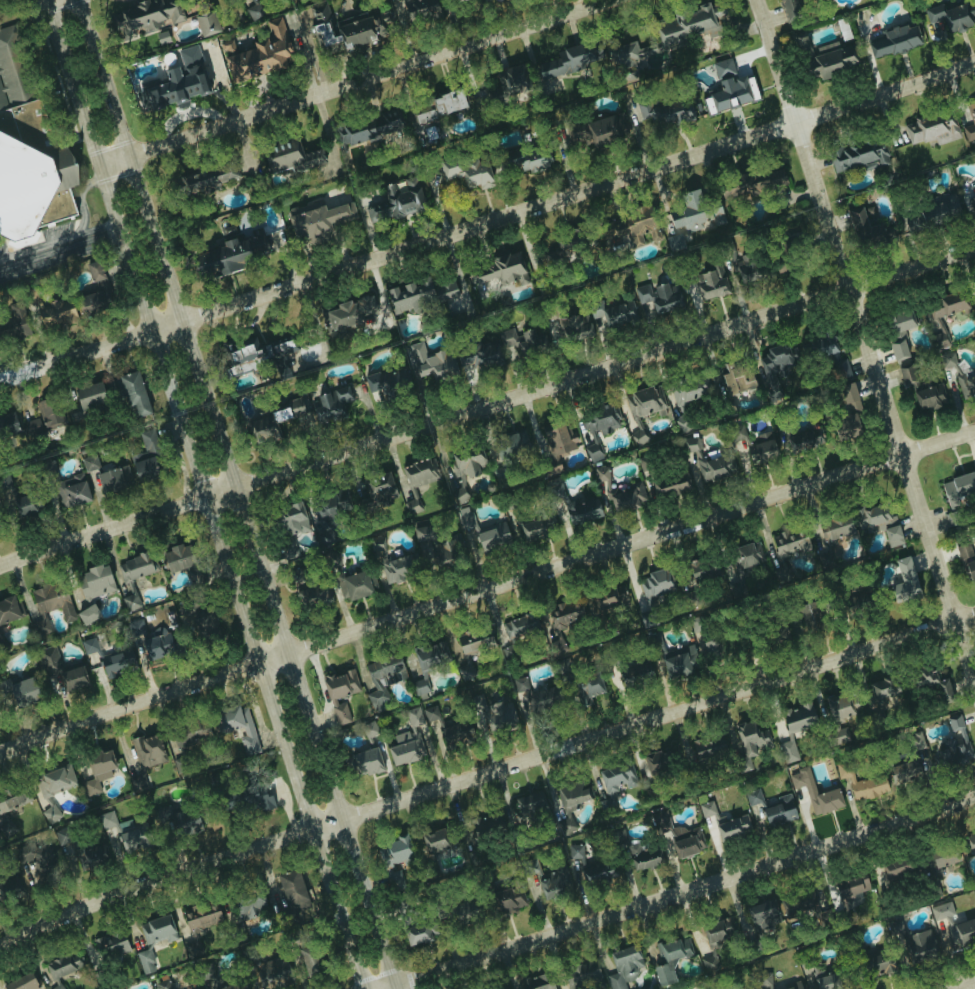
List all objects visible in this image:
road: (45, 0)
building: (242, 0)
building: (391, 0)
building: (490, 1)
building: (417, 8)
building: (790, 8)
building: (254, 11)
building: (952, 16)
building: (145, 17)
building: (205, 23)
building: (686, 25)
building: (351, 30)
building: (894, 41)
building: (257, 54)
building: (189, 55)
building: (824, 56)
building: (569, 60)
building: (624, 61)
building: (511, 80)
road: (352, 84)
building: (177, 88)
building: (447, 103)
building: (671, 112)
building: (971, 113)
building: (423, 117)
building: (368, 128)
building: (598, 130)
building: (931, 130)
building: (424, 134)
building: (29, 149)
building: (859, 156)
building: (291, 157)
building: (521, 162)
building: (467, 171)
building: (775, 179)
building: (198, 182)
building: (971, 201)
building: (396, 202)
building: (695, 212)
building: (932, 213)
building: (313, 220)
road: (487, 223)
building: (633, 227)
building: (864, 228)
road: (96, 229)
road: (73, 236)
building: (675, 242)
building: (566, 243)
road: (58, 251)
building: (235, 254)
road: (60, 261)
building: (743, 266)
building: (501, 270)
building: (709, 285)
building: (94, 292)
building: (422, 296)
building: (658, 297)
building: (943, 308)
building: (54, 312)
building: (347, 313)
building: (615, 315)
building: (13, 325)
building: (568, 328)
road: (866, 339)
building: (517, 342)
building: (900, 343)
building: (256, 352)
building: (478, 355)
building: (830, 355)
building: (432, 362)
building: (774, 368)
building: (737, 379)
building: (387, 382)
building: (966, 386)
building: (687, 392)
building: (132, 395)
building: (929, 397)
building: (83, 400)
building: (329, 406)
road: (487, 406)
building: (642, 409)
building: (846, 411)
building: (29, 421)
building: (273, 422)
building: (599, 427)
building: (559, 438)
building: (803, 442)
building: (511, 445)
building: (761, 448)
building: (145, 459)
building: (707, 461)
building: (89, 464)
building: (551, 466)
building: (464, 470)
building: (419, 472)
building: (600, 473)
building: (113, 480)
building: (4, 483)
building: (670, 484)
building: (380, 487)
building: (606, 488)
building: (957, 488)
building: (73, 490)
road: (240, 494)
road: (200, 495)
building: (628, 498)
building: (412, 505)
building: (21, 506)
building: (582, 511)
building: (465, 518)
building: (293, 519)
building: (879, 524)
building: (532, 528)
building: (835, 529)
building: (492, 537)
building: (323, 539)
building: (435, 544)
building: (288, 550)
building: (786, 550)
building: (175, 558)
building: (967, 561)
building: (741, 567)
building: (396, 568)
building: (702, 570)
building: (134, 577)
building: (903, 579)
building: (93, 582)
building: (350, 582)
building: (652, 586)
road: (486, 587)
building: (307, 591)
building: (607, 598)
building: (51, 605)
building: (7, 610)
building: (808, 613)
building: (87, 615)
building: (561, 621)
building: (204, 624)
building: (520, 624)
building: (709, 641)
building: (157, 643)
building: (88, 646)
building: (472, 648)
building: (116, 660)
building: (681, 661)
building: (59, 671)
building: (635, 673)
building: (421, 674)
building: (383, 677)
building: (931, 681)
building: (520, 684)
building: (586, 689)
building: (881, 689)
building: (22, 692)
building: (340, 693)
building: (544, 699)
building: (842, 706)
building: (493, 711)
building: (430, 713)
building: (413, 716)
building: (798, 717)
building: (954, 722)
building: (235, 724)
building: (457, 731)
building: (191, 734)
building: (753, 736)
building: (915, 741)
building: (707, 747)
building: (405, 748)
building: (957, 750)
building: (788, 751)
building: (145, 758)
building: (658, 760)
building: (366, 762)
building: (97, 770)
road: (484, 771)
building: (903, 771)
building: (54, 780)
building: (614, 782)
building: (861, 783)
building: (830, 791)
building: (574, 793)
building: (752, 796)
building: (261, 799)
building: (530, 801)
building: (779, 811)
building: (3, 812)
building: (50, 813)
building: (179, 820)
building: (113, 822)
building: (485, 822)
building: (722, 824)
building: (567, 826)
building: (682, 838)
building: (133, 839)
building: (435, 839)
building: (971, 842)
building: (643, 856)
building: (940, 857)
building: (36, 861)
building: (593, 865)
building: (895, 868)
building: (553, 881)
building: (10, 886)
building: (290, 887)
building: (851, 887)
road: (674, 892)
building: (506, 901)
building: (805, 903)
building: (247, 905)
building: (938, 912)
building: (765, 913)
building: (197, 925)
building: (894, 926)
building: (718, 928)
building: (157, 929)
building: (416, 934)
building: (920, 945)
building: (109, 946)
building: (307, 958)
building: (670, 958)
building: (145, 961)
building: (709, 961)
building: (877, 961)
building: (60, 965)
building: (624, 965)
building: (273, 973)
building: (821, 977)
building: (764, 981)
building: (21, 982)
building: (536, 983)
building: (163, 984)
road: (965, 985)
building: (57, 986)
building: (226, 986)
building: (793, 986)
building: (499, 988)

